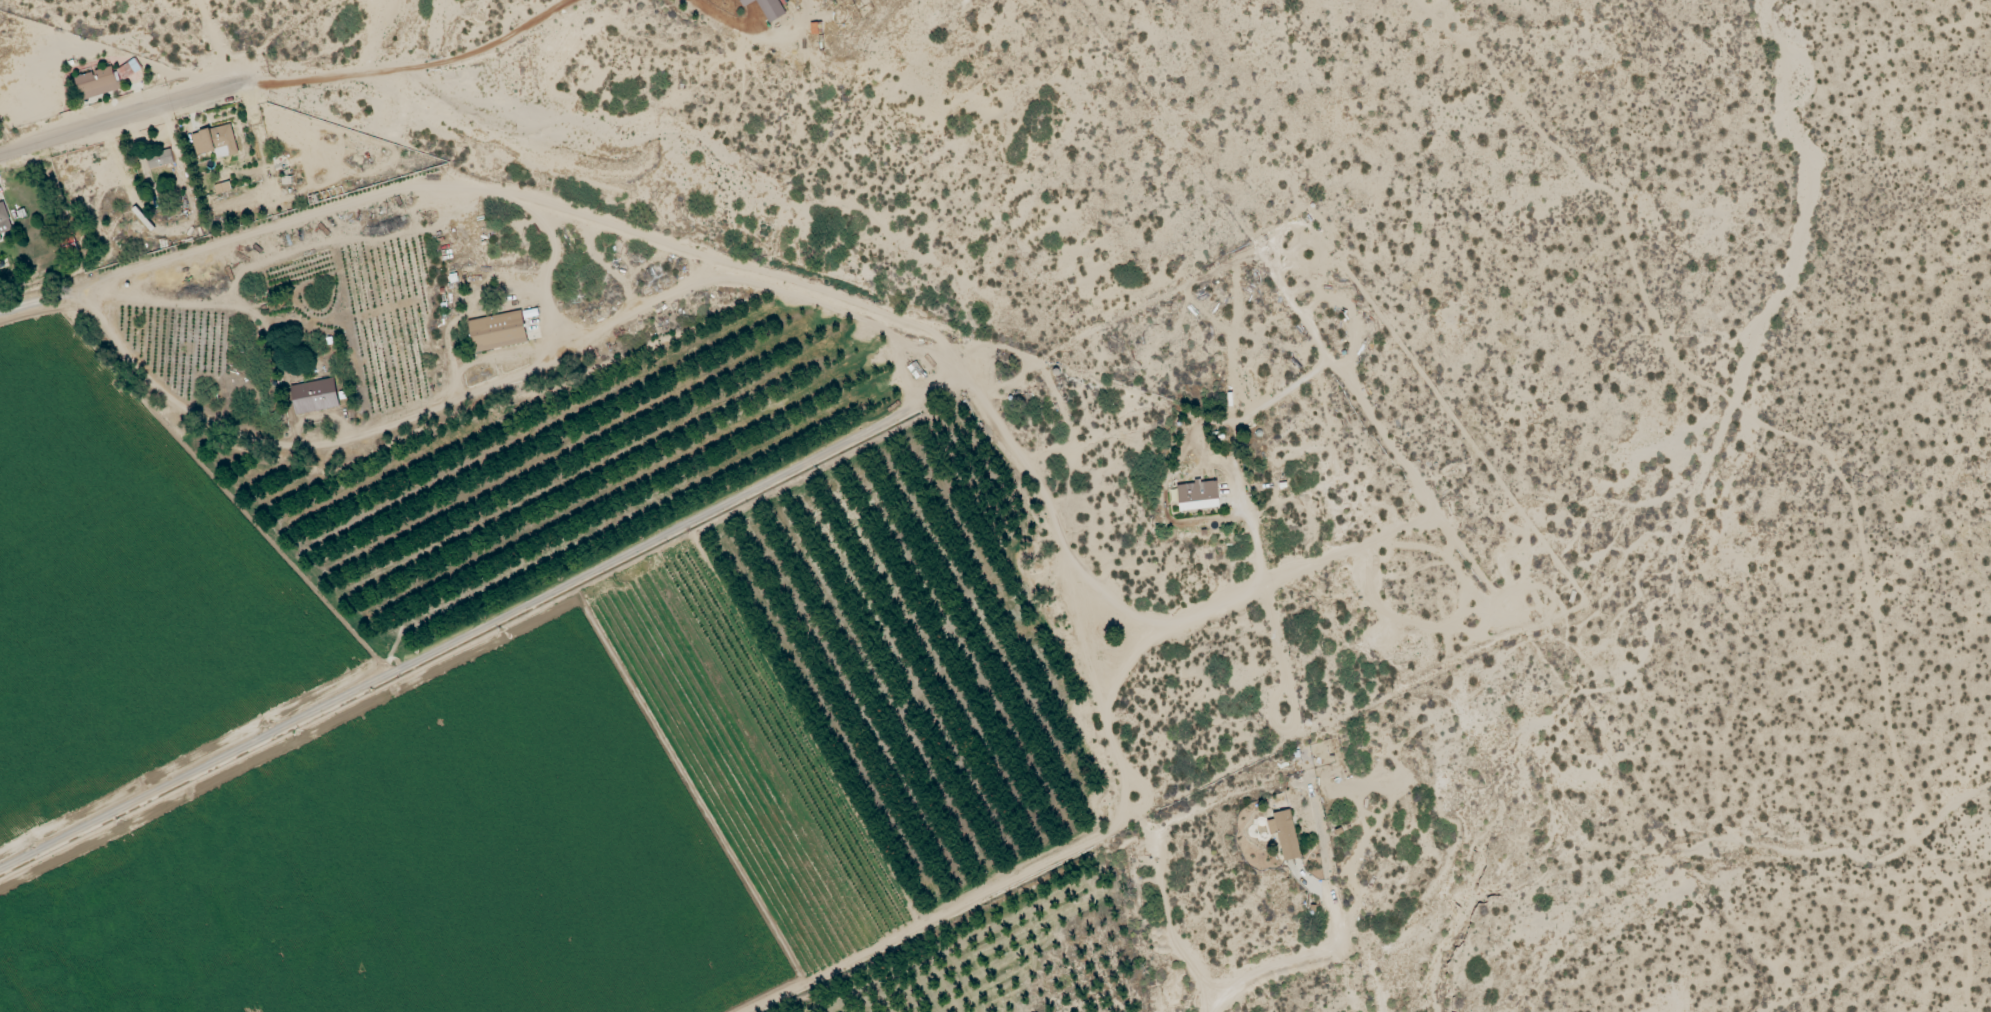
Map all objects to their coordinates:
building: (763, 6)
building: (128, 70)
building: (97, 83)
road: (132, 116)
building: (216, 142)
building: (160, 159)
building: (4, 221)
road: (220, 241)
building: (499, 332)
building: (309, 394)
road: (422, 414)
building: (1200, 493)
road: (1150, 579)
building: (1286, 834)
road: (1839, 933)
road: (1273, 968)

